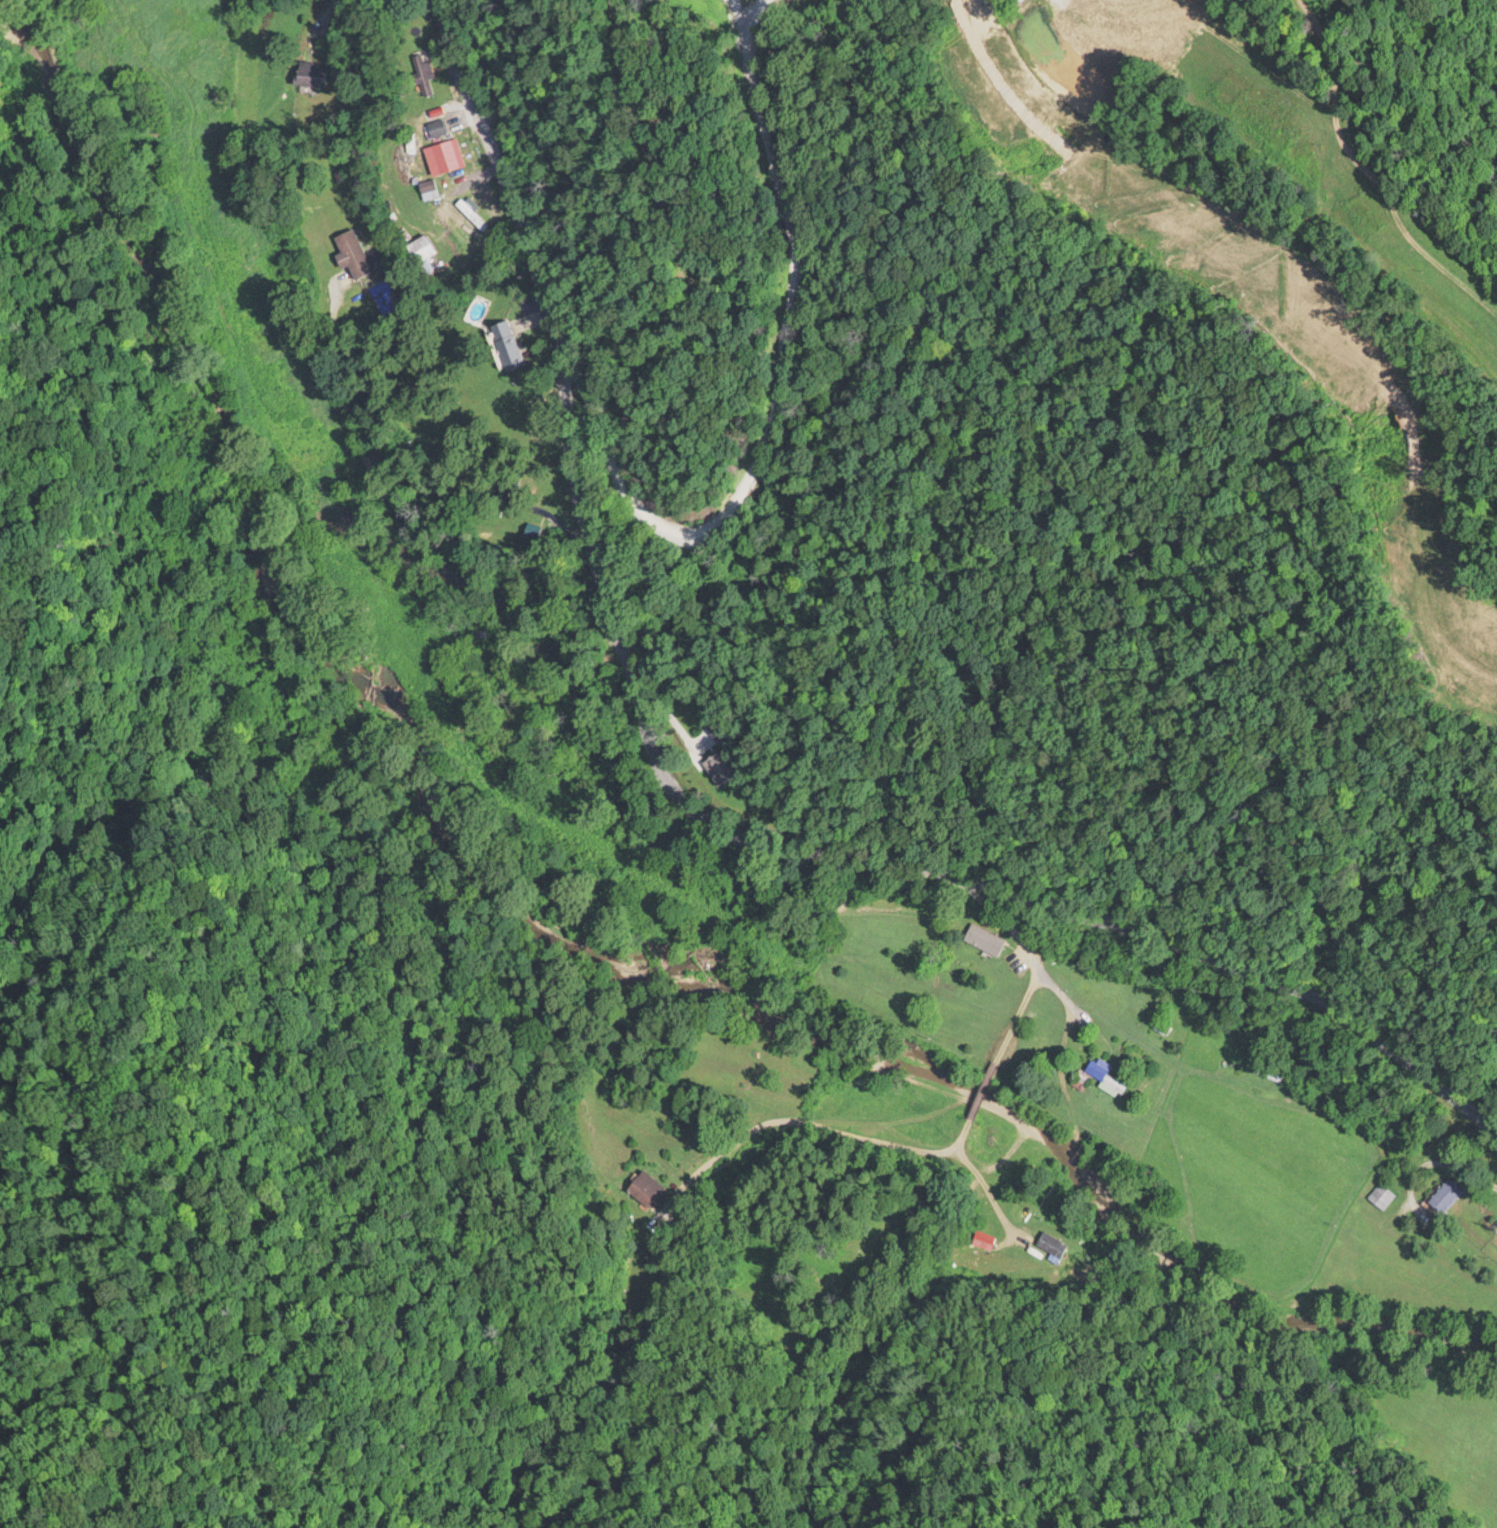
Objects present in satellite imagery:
building: (1019, 0)
building: (308, 73)
building: (422, 74)
building: (1087, 83)
building: (436, 127)
building: (445, 155)
building: (427, 188)
building: (420, 252)
building: (351, 253)
building: (506, 343)
building: (481, 629)
building: (719, 765)
road: (708, 814)
river: (571, 867)
building: (976, 928)
building: (1267, 1072)
building: (1103, 1075)
building: (643, 1186)
building: (1380, 1194)
building: (1441, 1196)
building: (1049, 1244)

